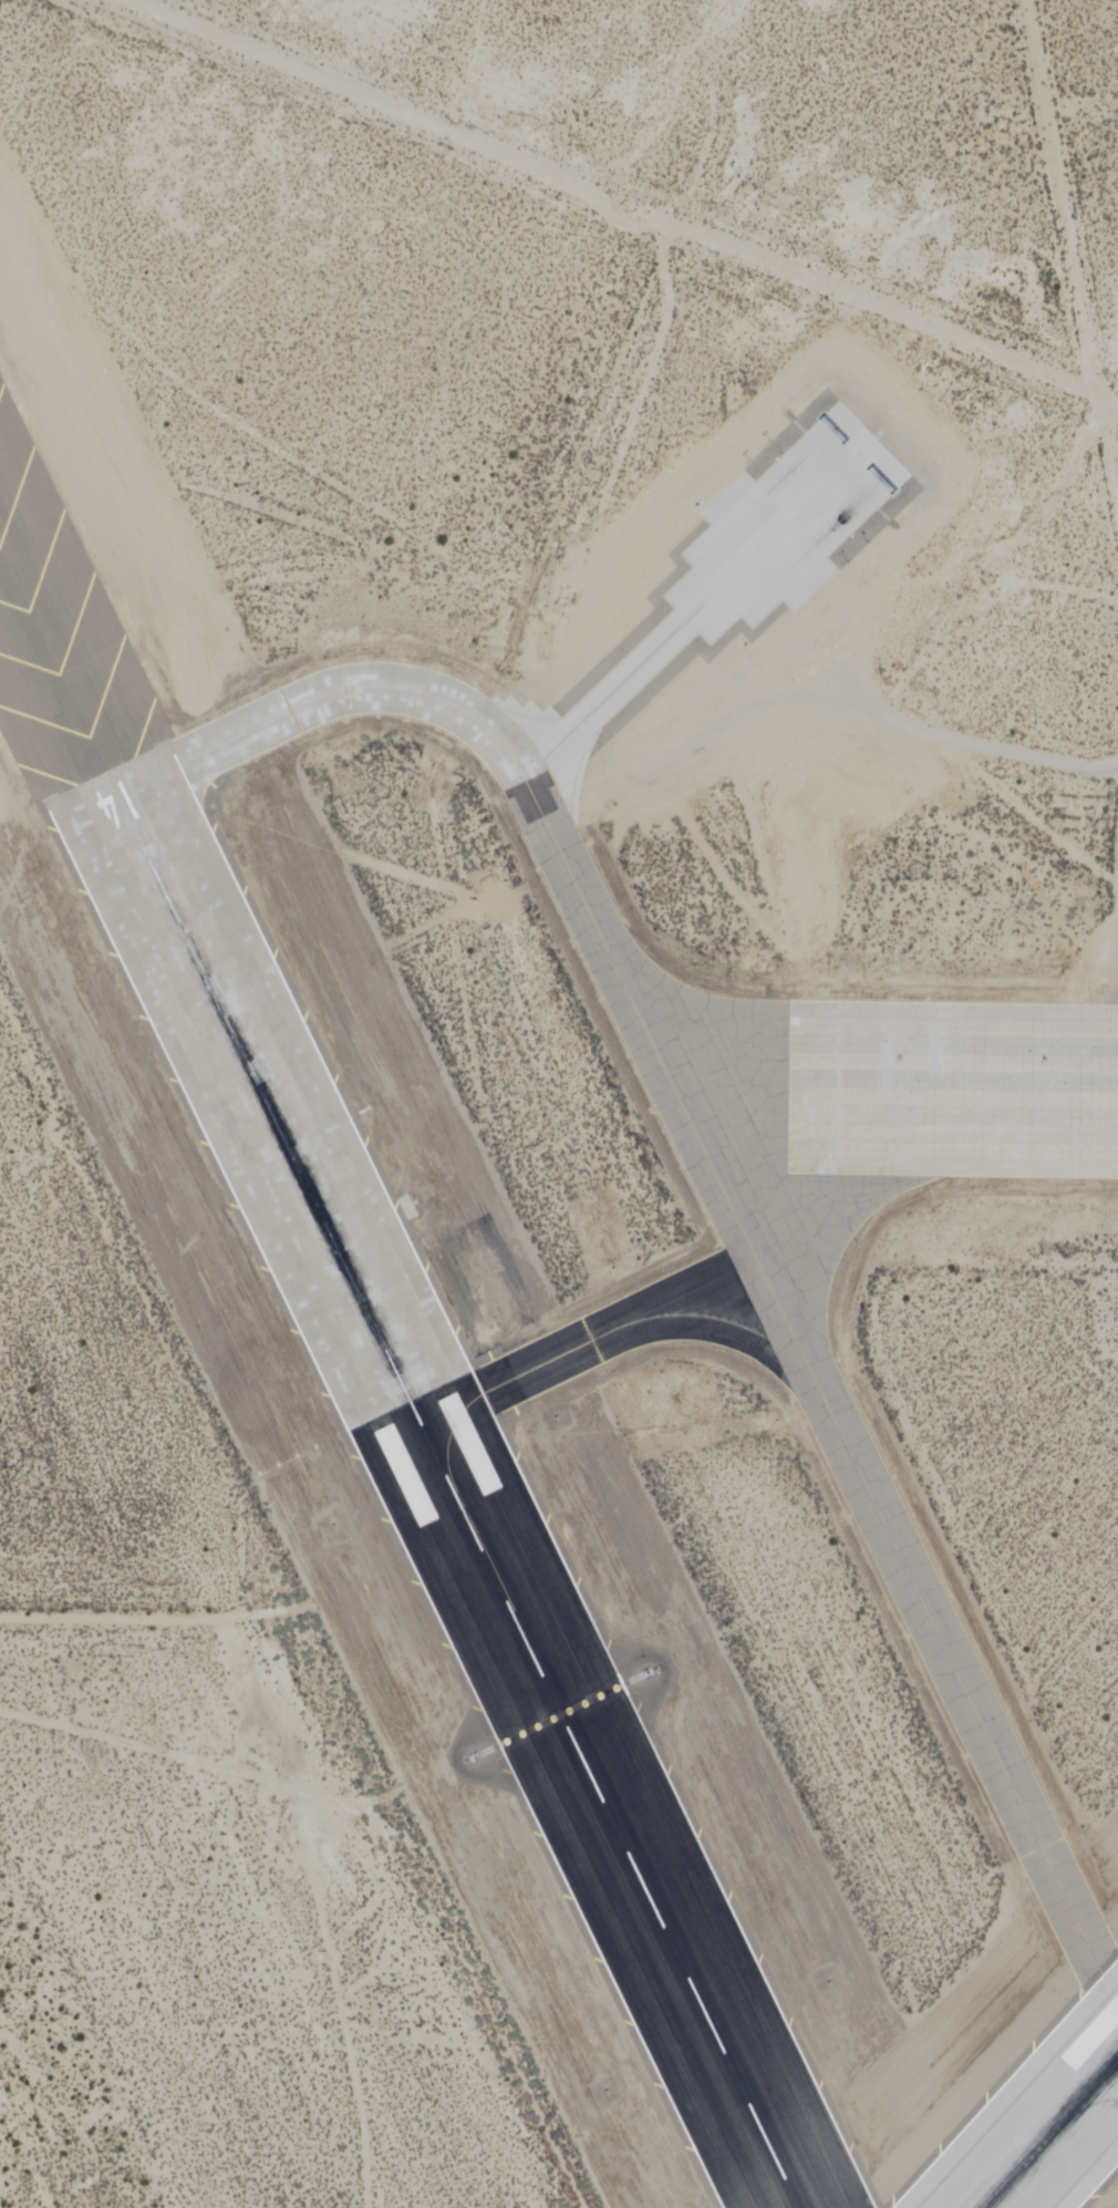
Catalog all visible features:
building: (689, 718)
airport apron: (952, 1090)
airport: (559, 1104)
airport taxiway: (720, 1184)
airport taxiway: (589, 1342)
airport runway: (458, 1503)
building: (568, 1747)
airport runway: (1052, 2135)

